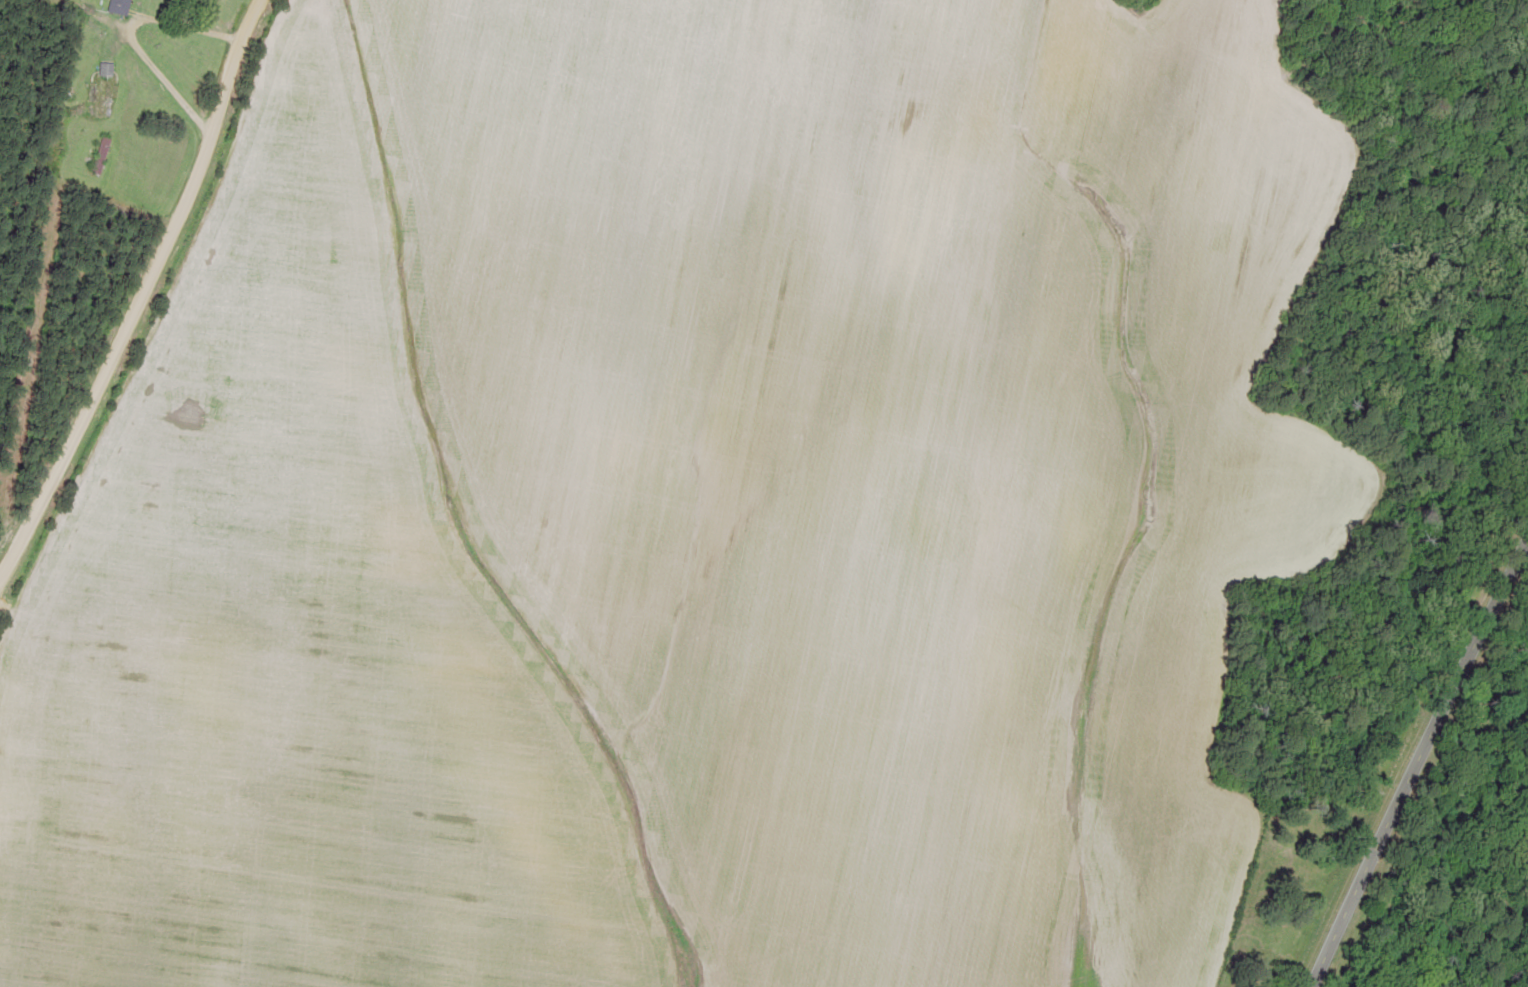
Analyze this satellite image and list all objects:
building: (115, 7)
building: (101, 91)
road: (148, 289)
road: (1425, 768)

